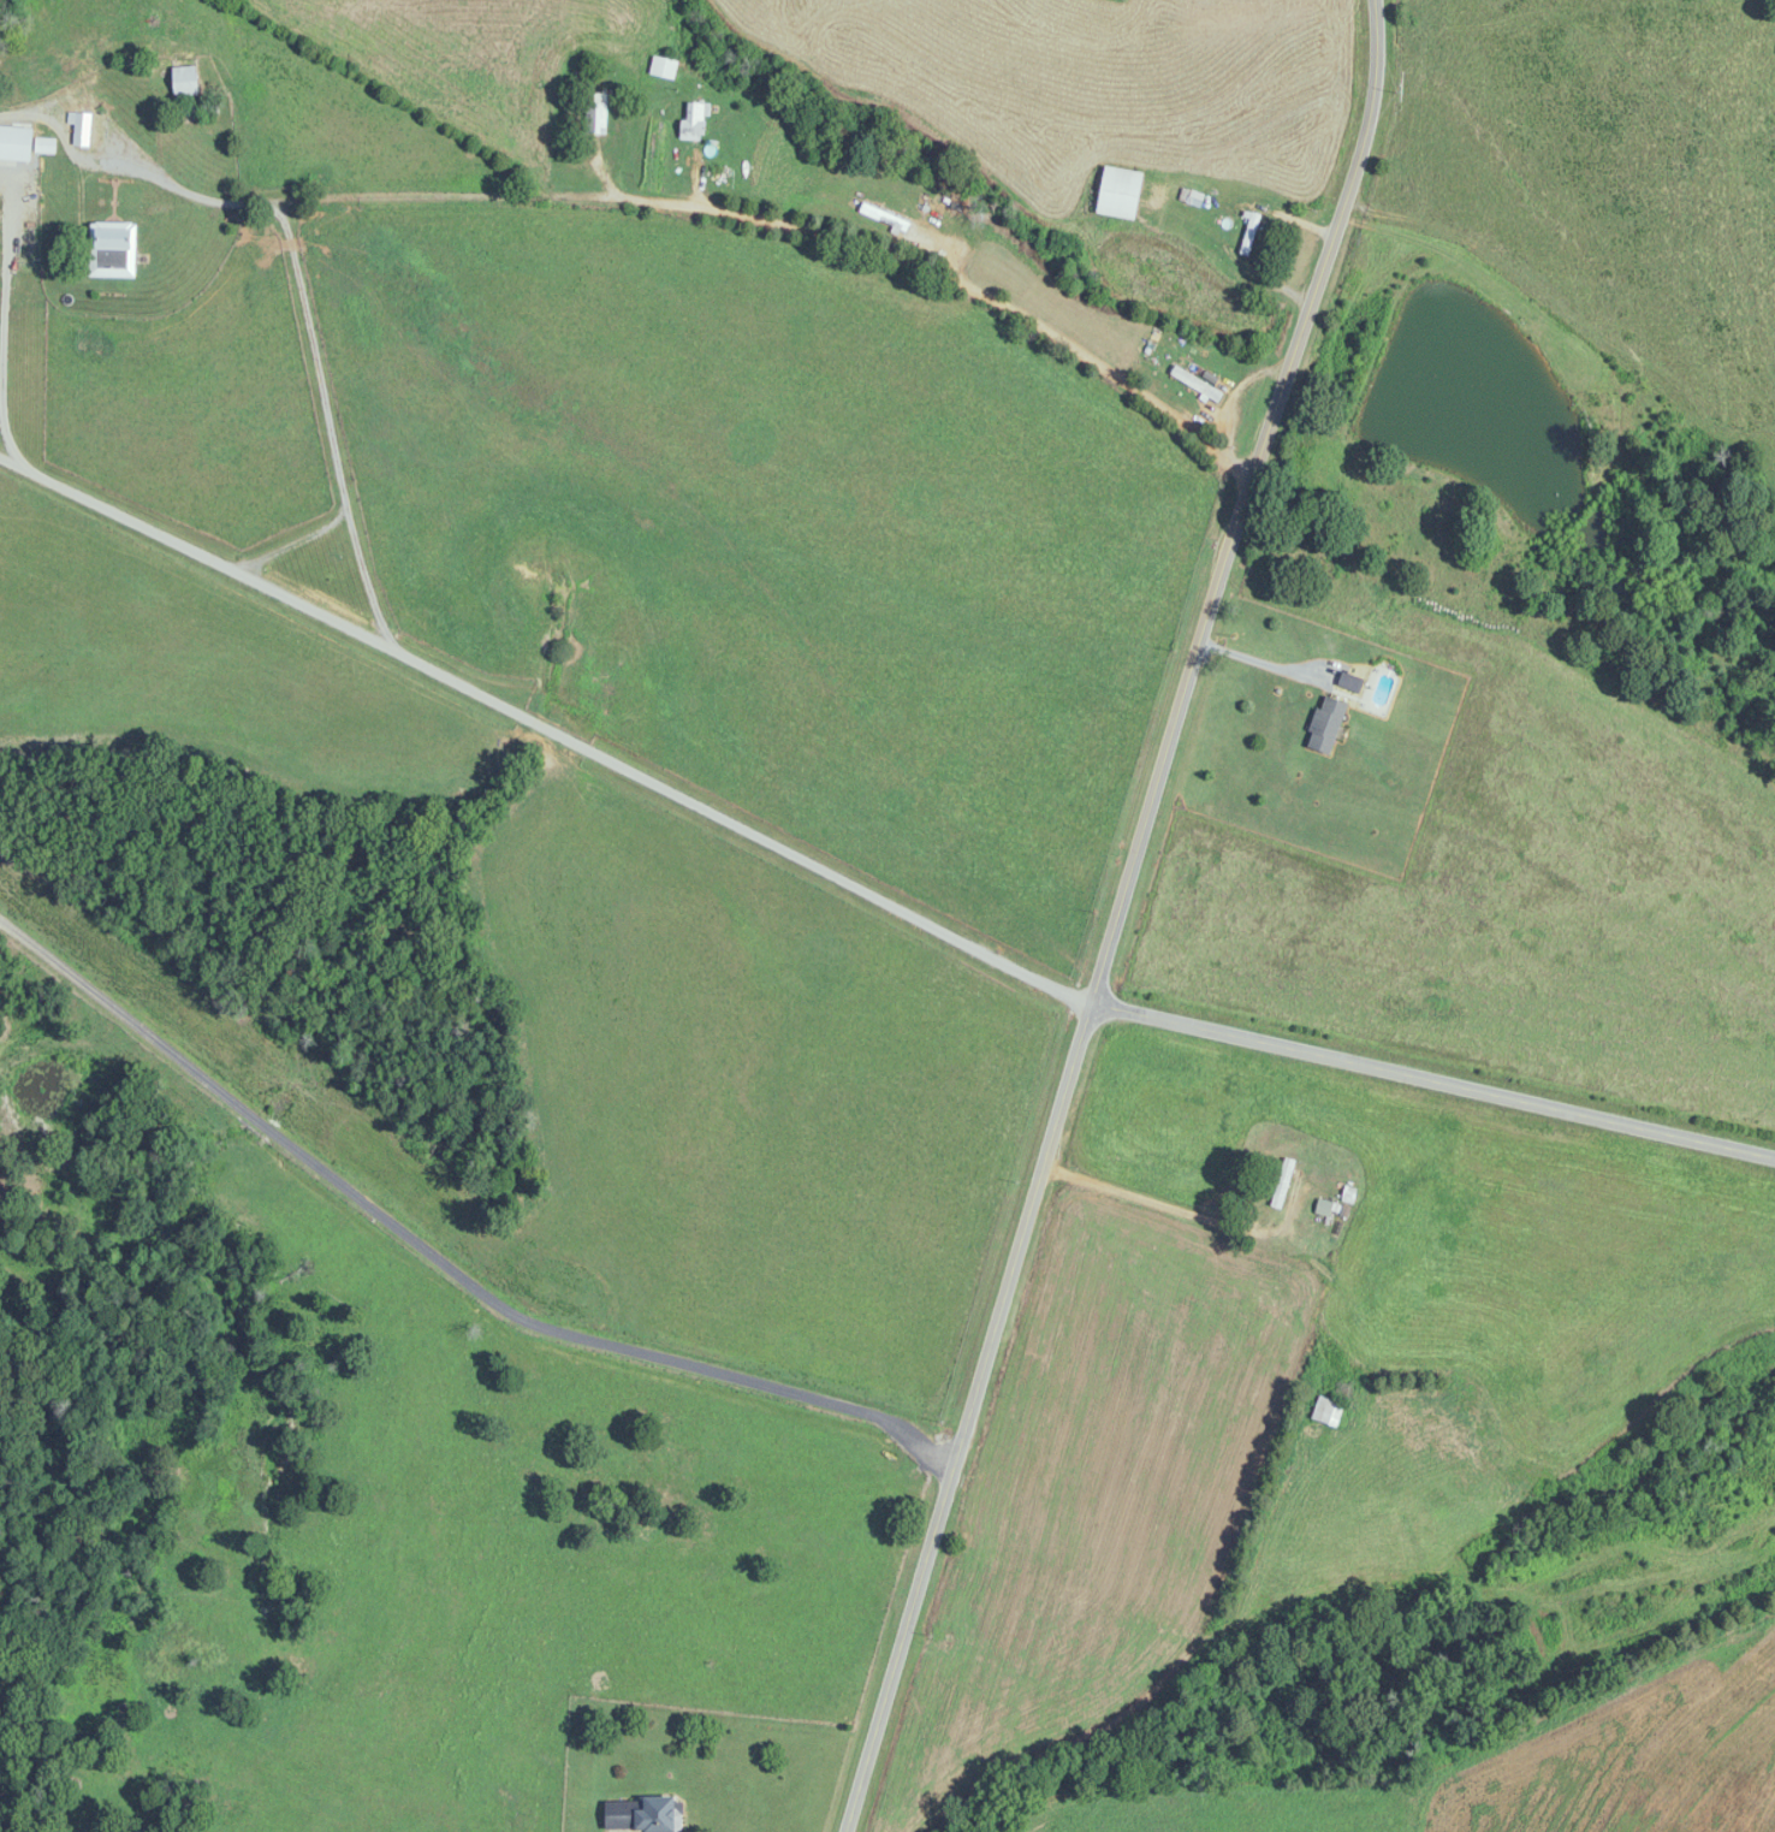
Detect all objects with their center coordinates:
building: (69, 64)
building: (664, 67)
building: (185, 77)
building: (596, 113)
road: (53, 118)
building: (694, 123)
building: (81, 129)
building: (28, 144)
building: (1121, 192)
building: (1192, 197)
road: (696, 206)
building: (1249, 233)
building: (113, 251)
road: (4, 315)
road: (311, 351)
road: (348, 517)
road: (1245, 657)
building: (1350, 682)
road: (540, 723)
building: (1326, 725)
road: (1105, 913)
road: (1427, 1077)
building: (1283, 1184)
road: (1183, 1210)
road: (440, 1249)
building: (1329, 1412)
building: (645, 1814)

